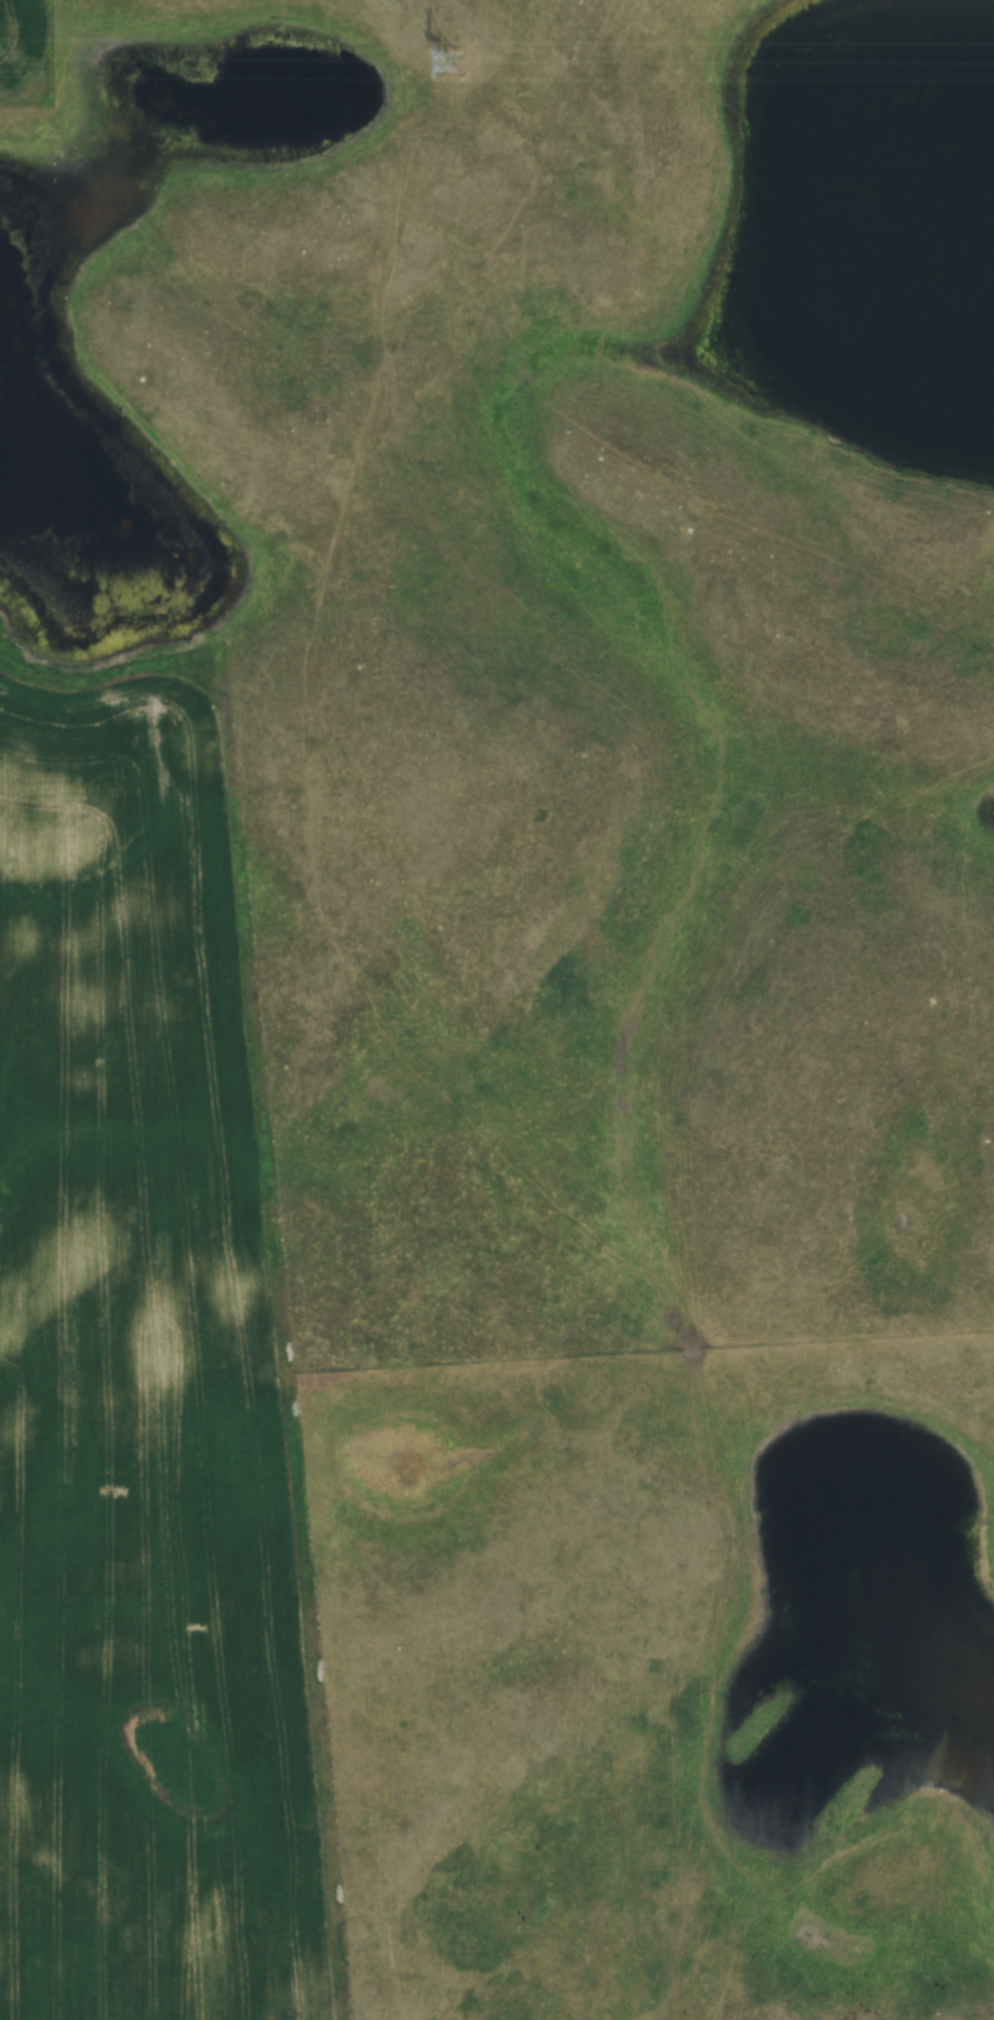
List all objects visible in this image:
power tower: (450, 66)

